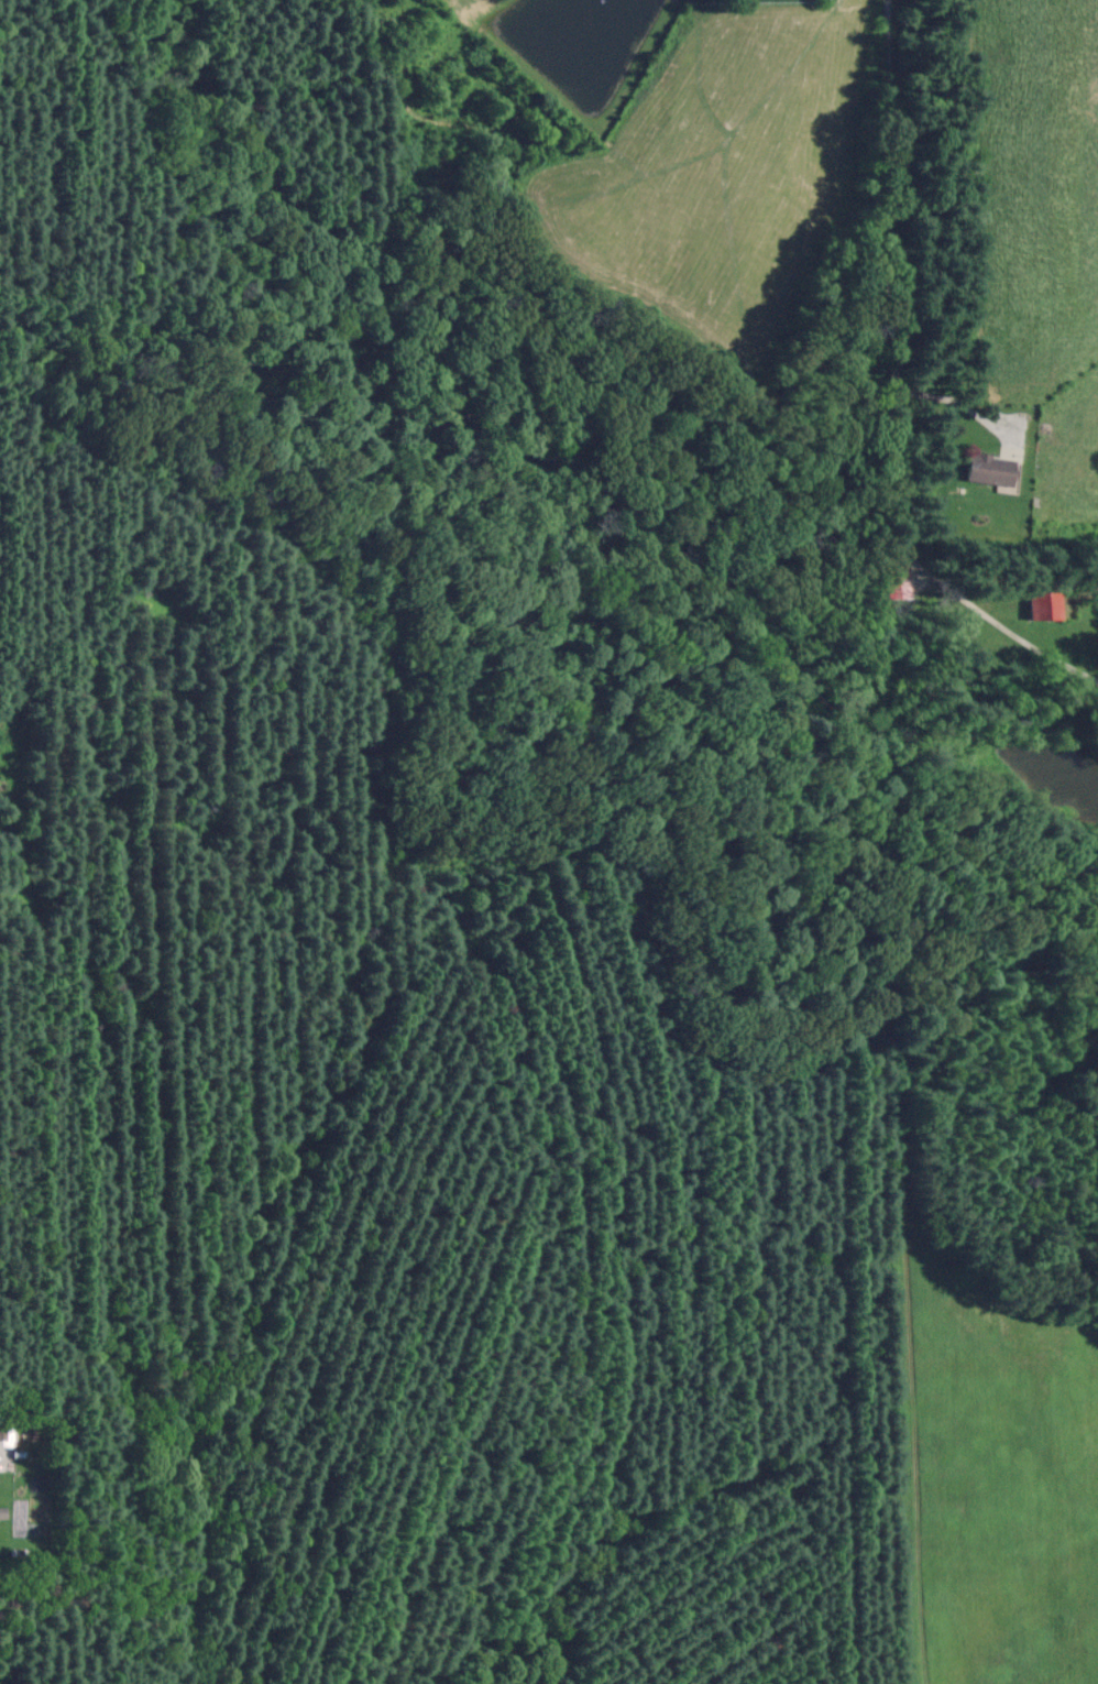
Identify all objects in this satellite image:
building: (988, 468)
building: (1042, 603)

